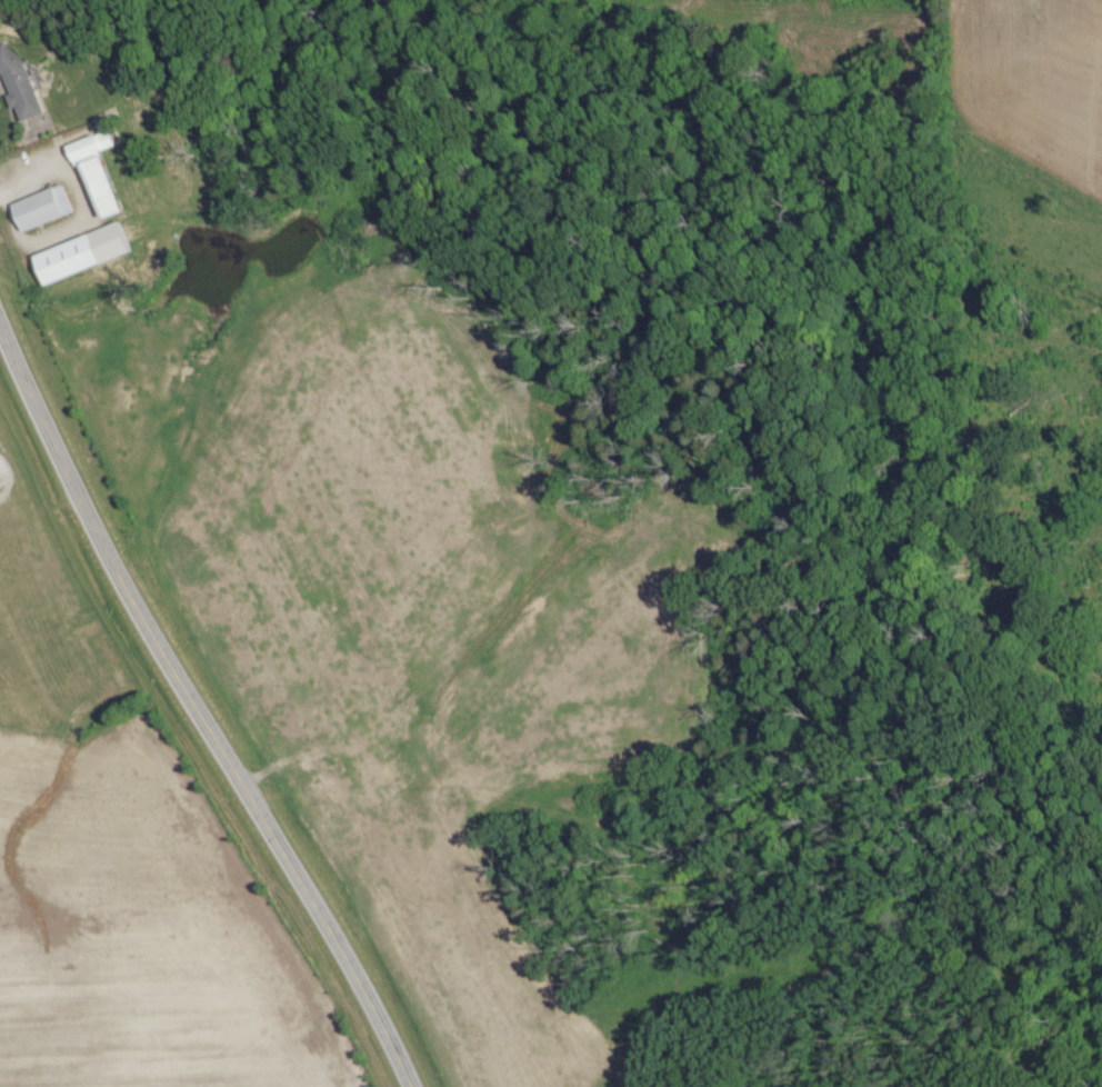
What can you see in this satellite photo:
building: (18, 86)
building: (94, 173)
building: (40, 209)
building: (80, 253)
building: (2, 486)
road: (197, 718)

